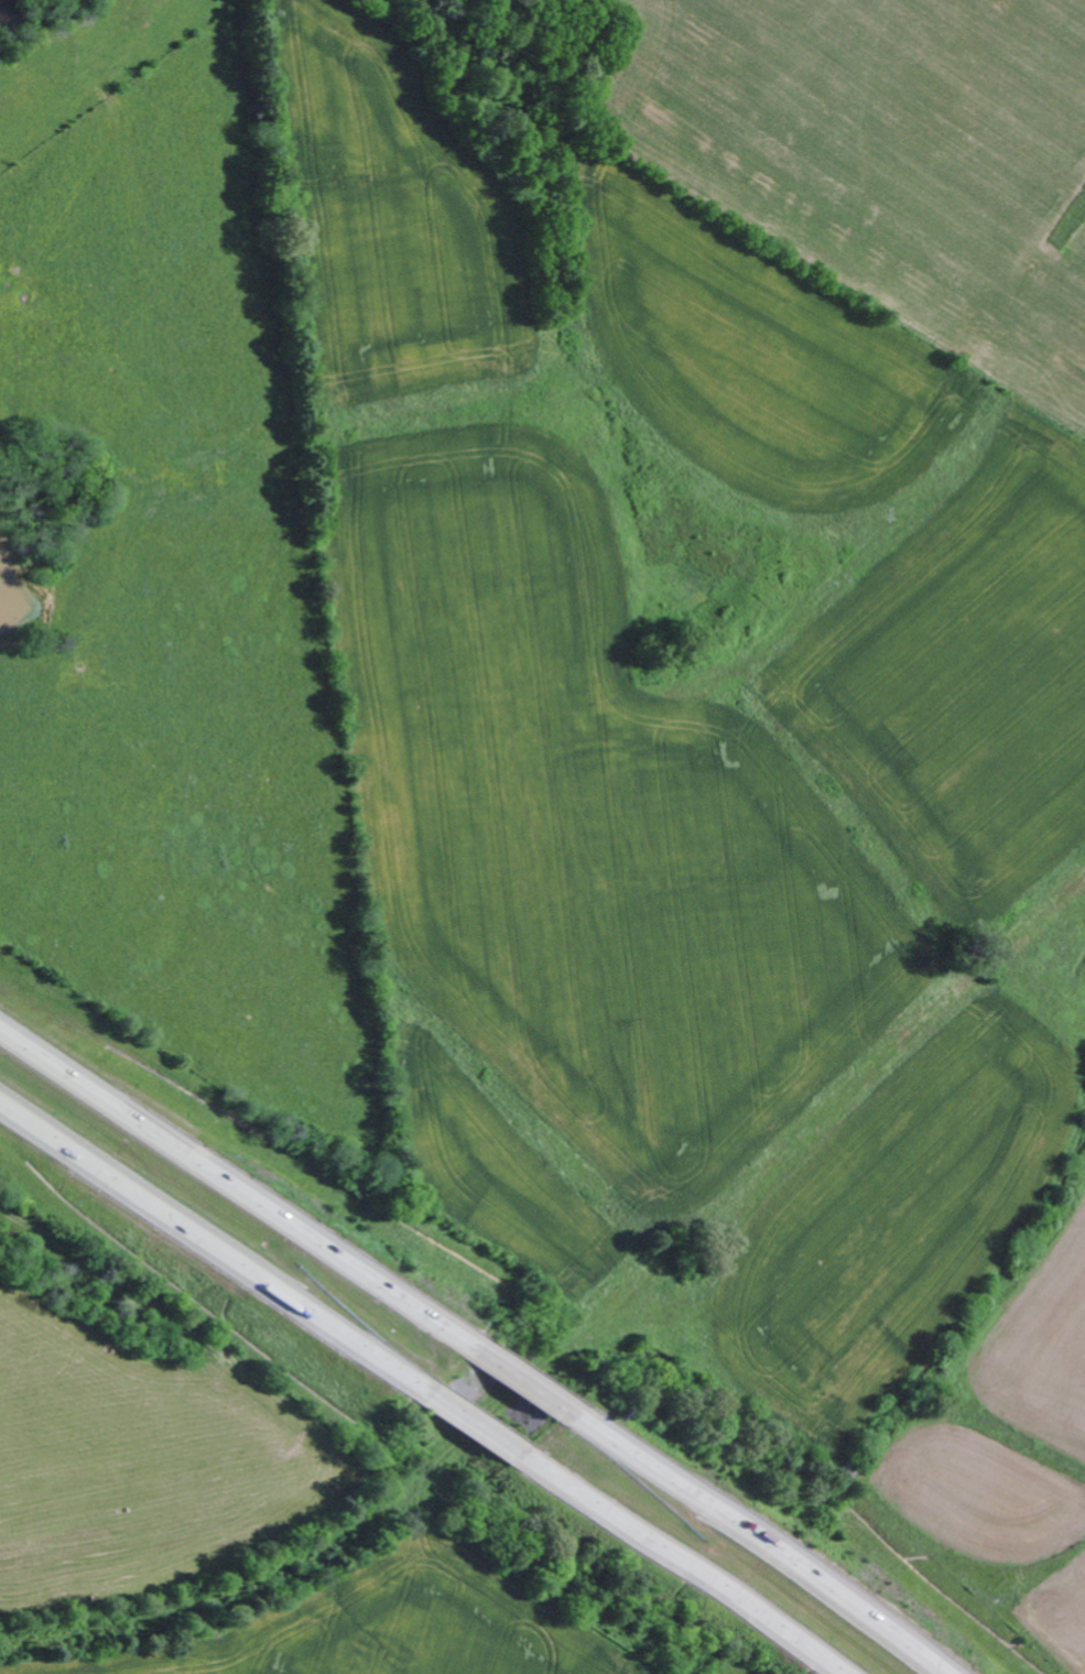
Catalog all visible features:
road: (238, 1188)
road: (215, 1249)
road: (521, 1379)
road: (475, 1424)
road: (757, 1539)
road: (681, 1563)

